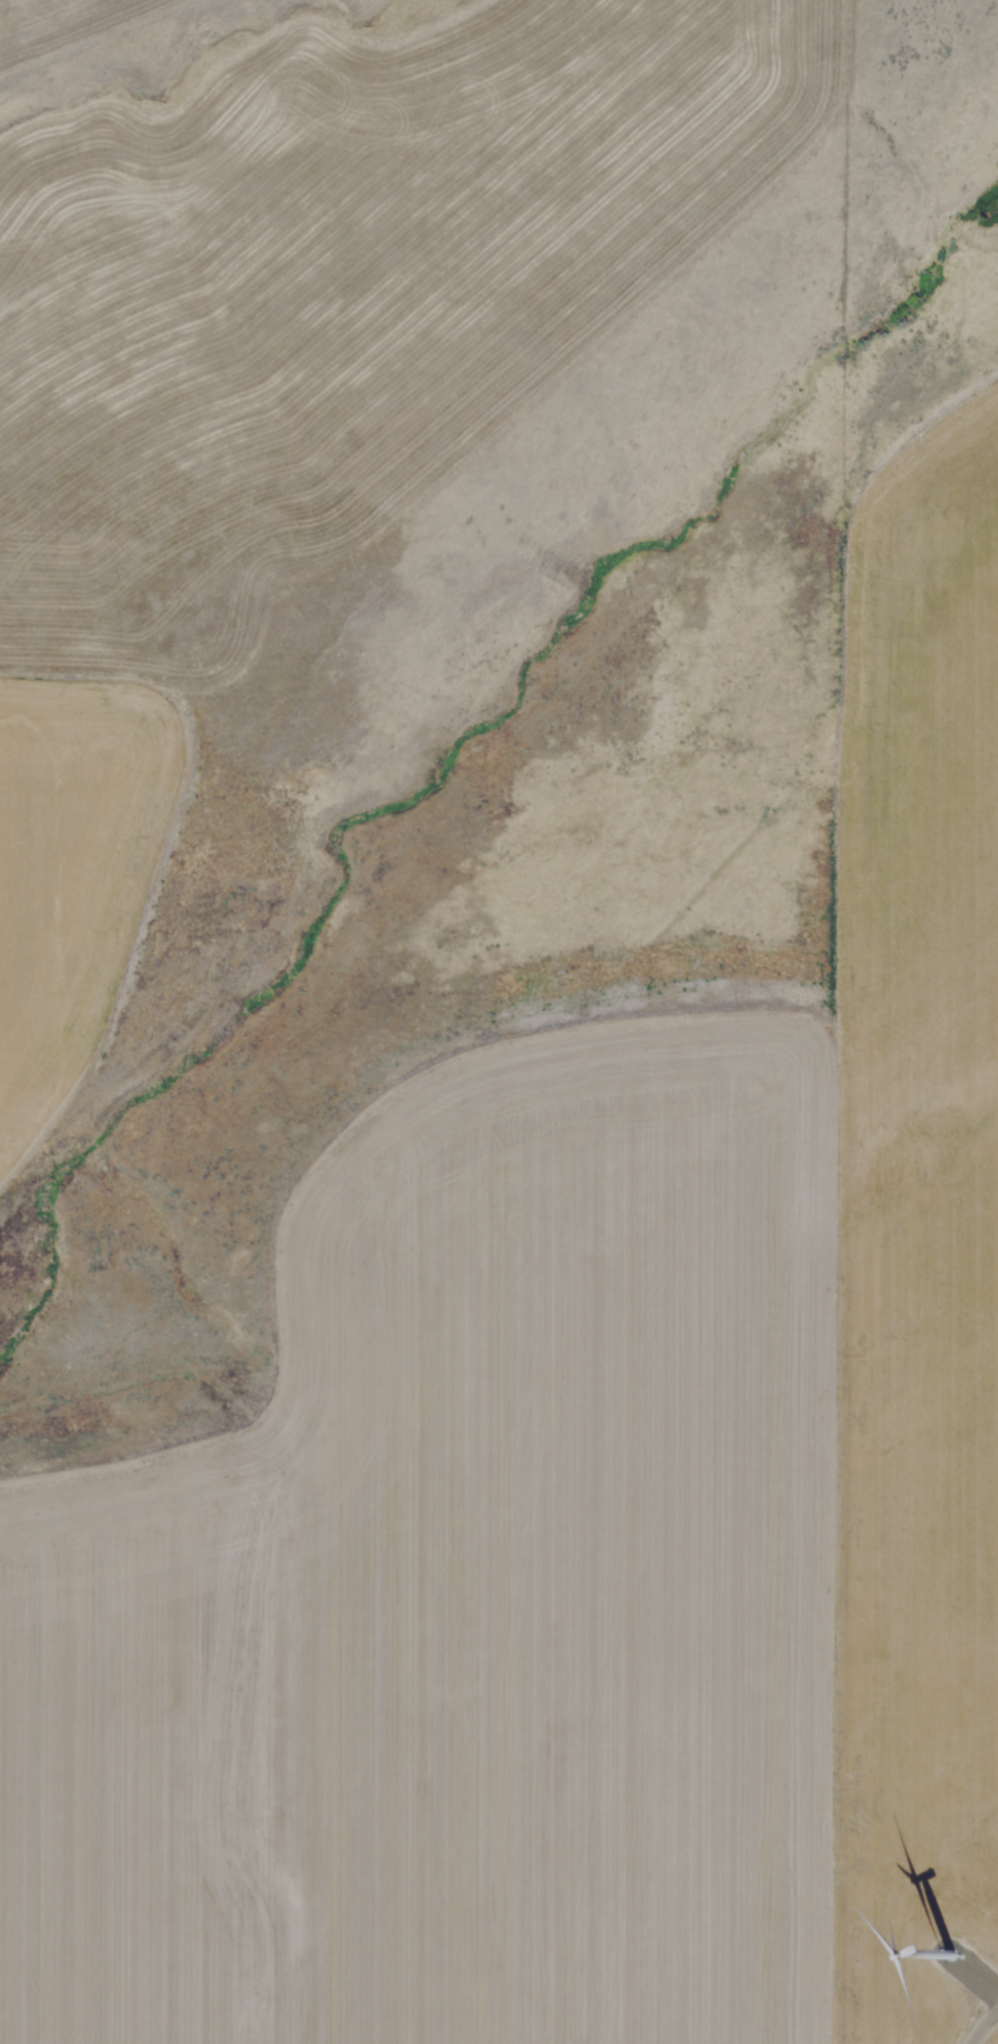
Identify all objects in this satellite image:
wind turbine: (944, 1963)
road: (972, 2013)

